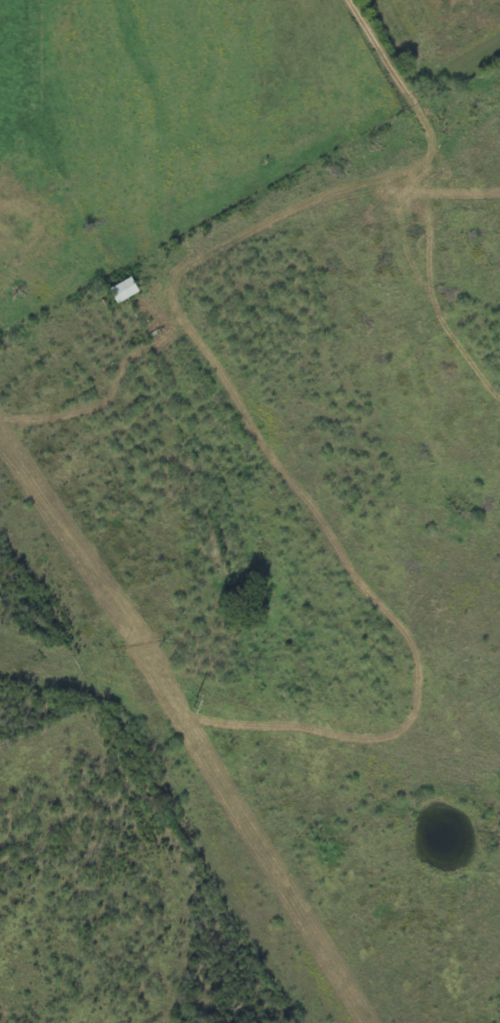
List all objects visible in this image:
power tower: (195, 702)

